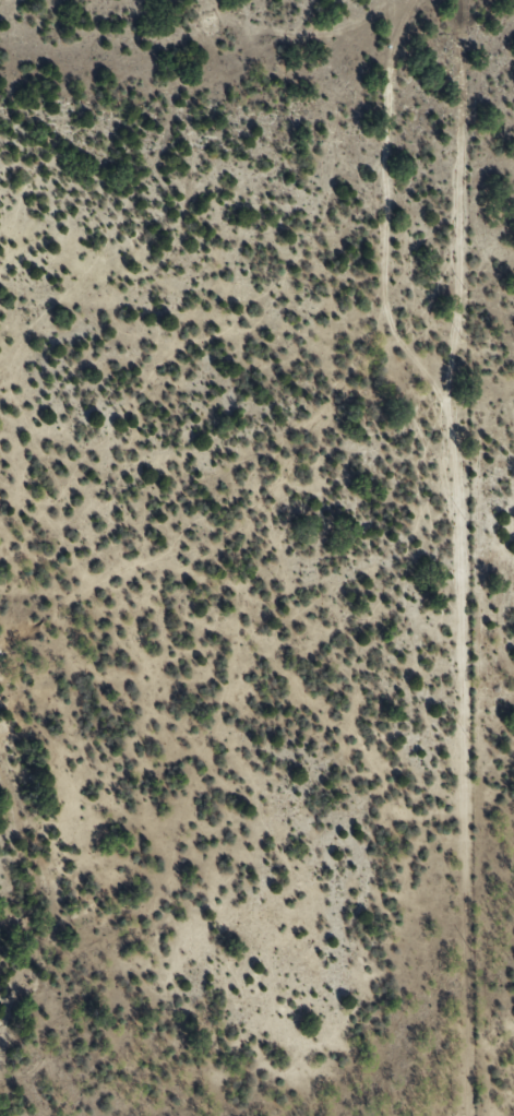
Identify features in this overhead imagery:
road: (430, 340)

